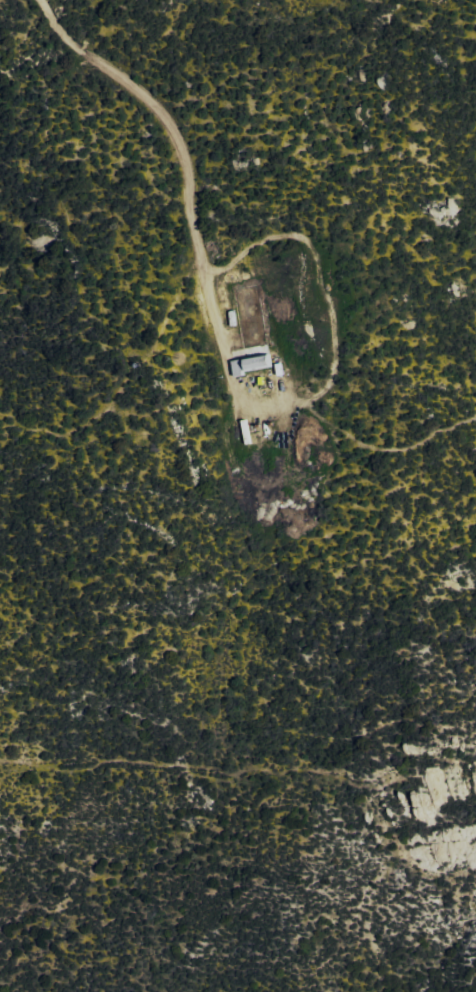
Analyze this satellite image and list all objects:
building: (250, 365)

